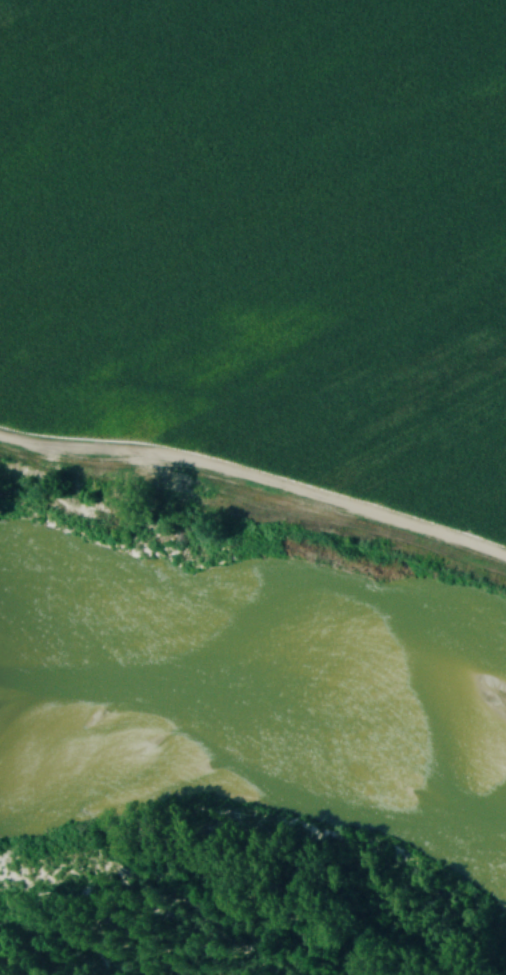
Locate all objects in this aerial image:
river: (253, 702)

